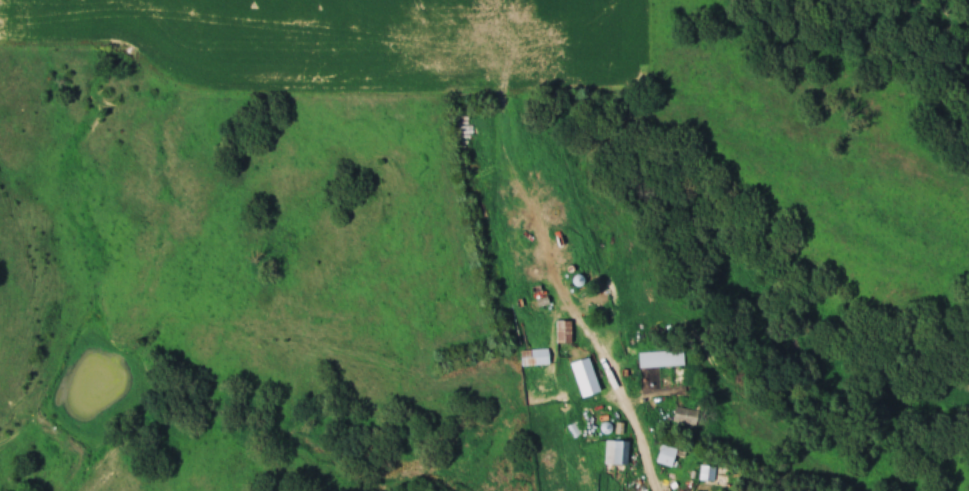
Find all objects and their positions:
building: (565, 330)
building: (536, 356)
building: (663, 357)
building: (587, 376)
building: (688, 413)
road: (633, 420)
building: (618, 451)
building: (667, 454)
building: (712, 472)

